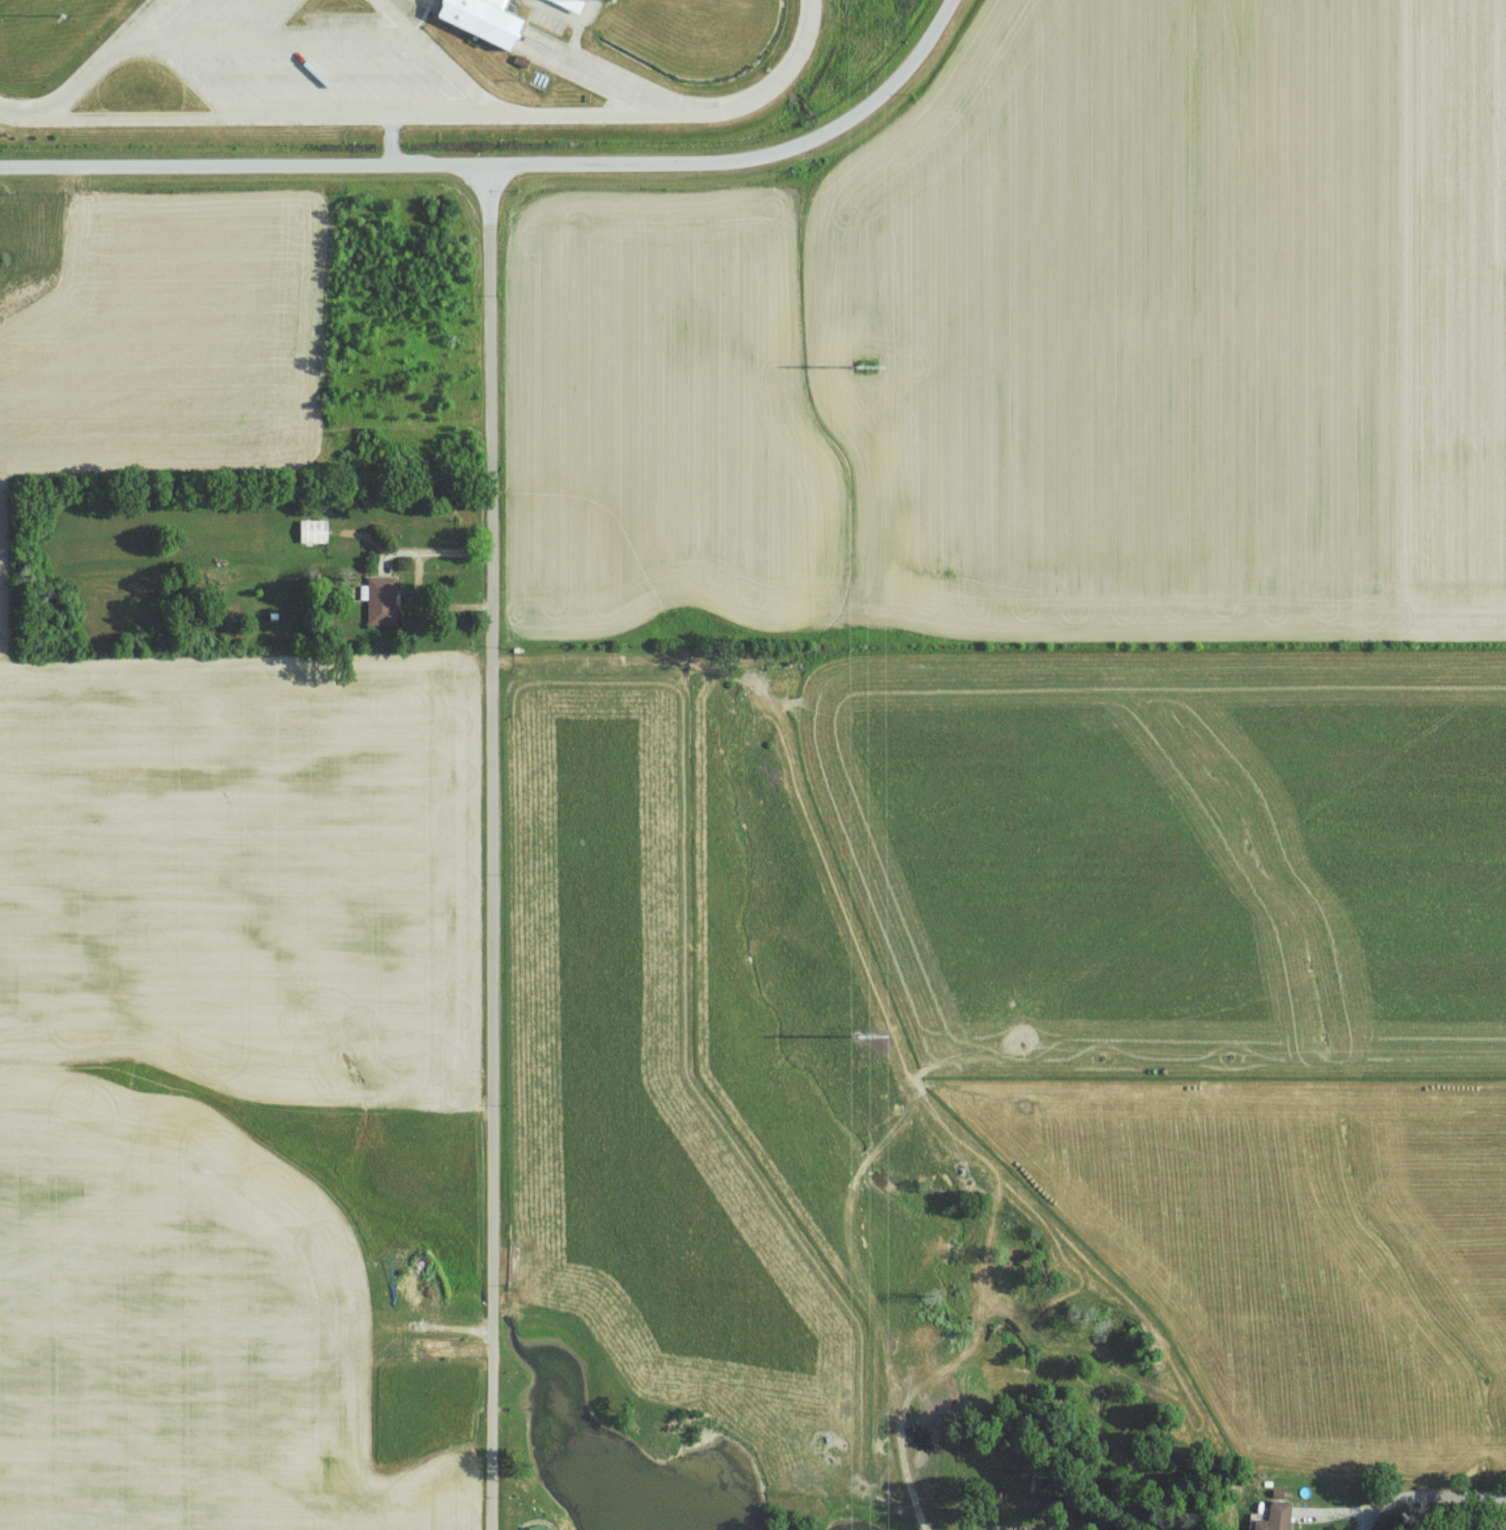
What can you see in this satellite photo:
building: (493, 3)
building: (557, 7)
road: (167, 21)
road: (196, 21)
road: (226, 21)
road: (251, 21)
road: (270, 21)
building: (473, 27)
road: (262, 42)
road: (434, 60)
road: (90, 62)
road: (564, 64)
road: (278, 80)
road: (324, 80)
road: (380, 80)
road: (186, 81)
road: (235, 81)
road: (441, 118)
road: (387, 143)
road: (509, 167)
power tower: (870, 364)
building: (309, 530)
road: (493, 848)
power tower: (869, 1037)
road: (1436, 1498)
building: (1272, 1516)
road: (1369, 1523)
building: (538, 1527)

